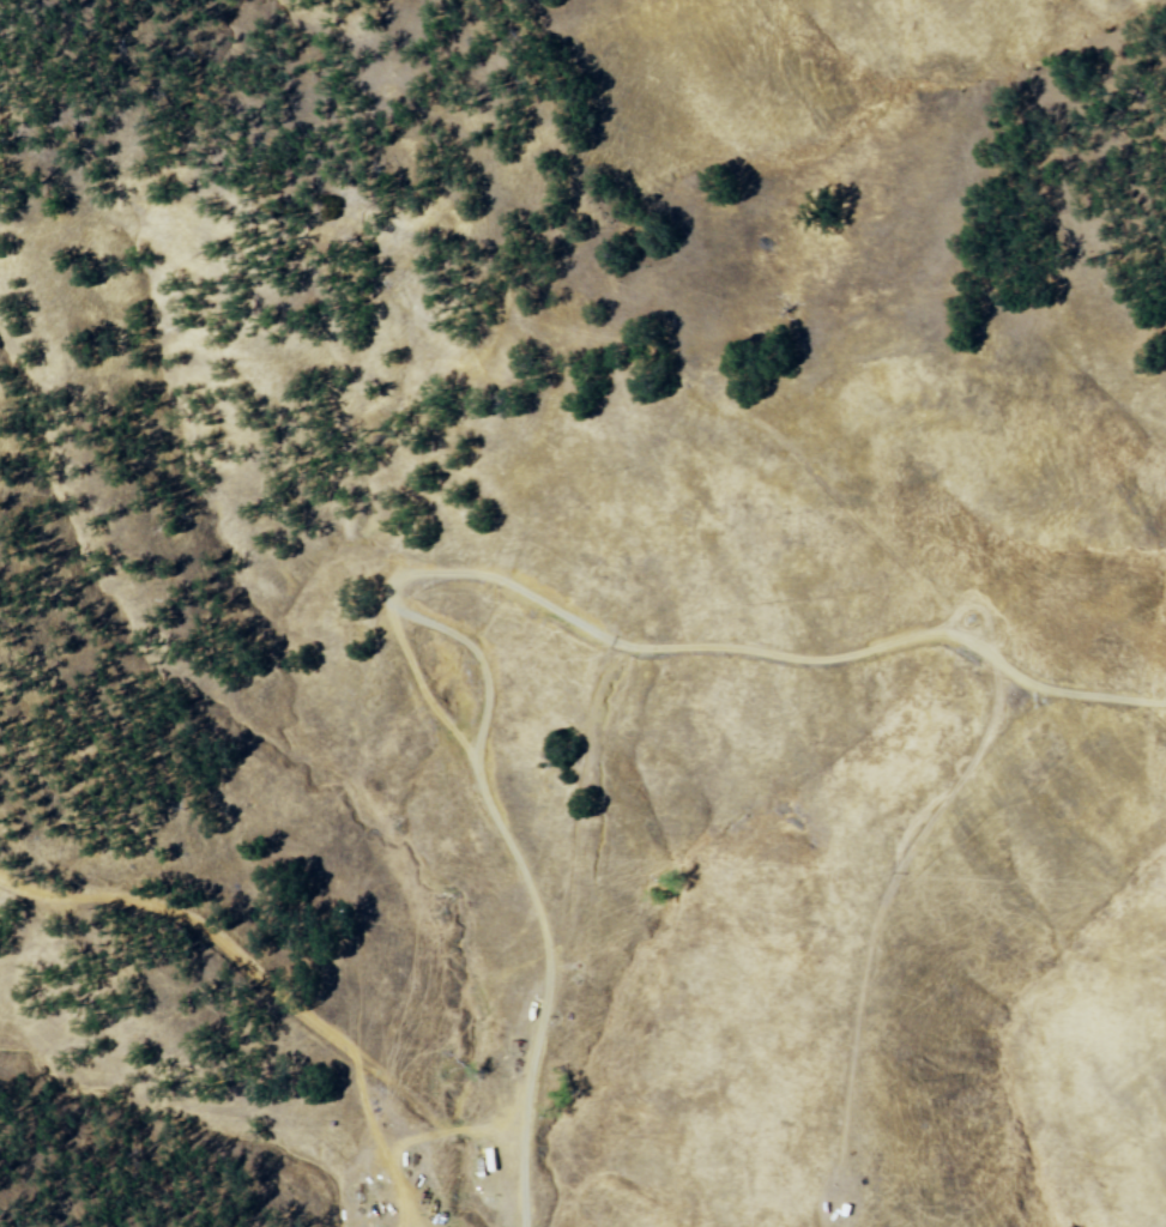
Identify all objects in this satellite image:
road: (1128, 696)

